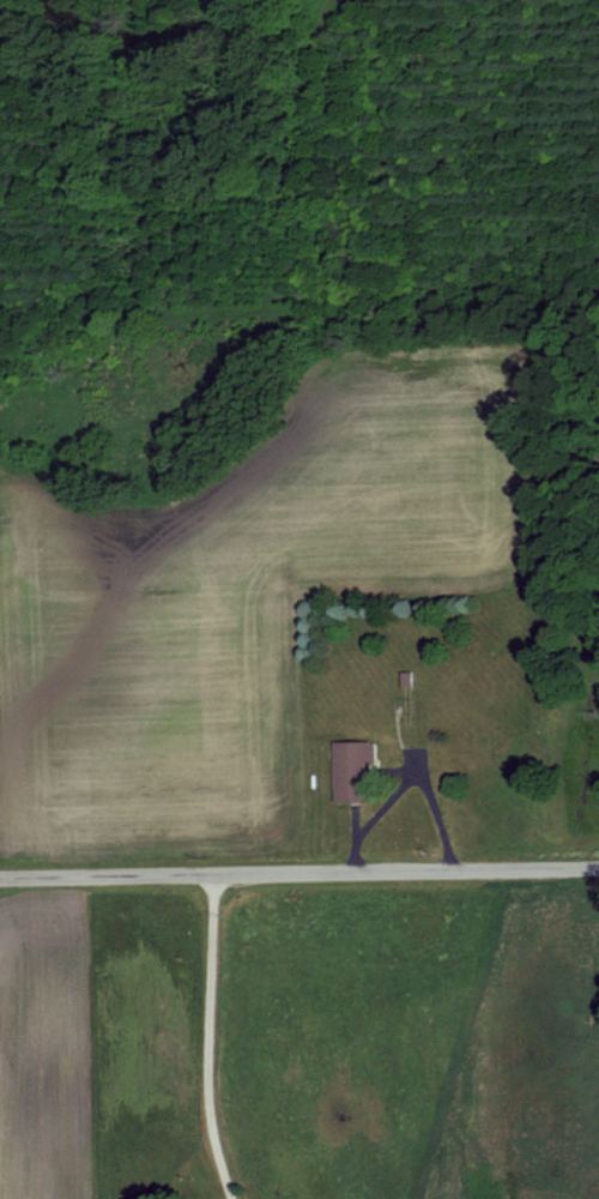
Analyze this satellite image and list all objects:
building: (353, 771)
road: (299, 870)

